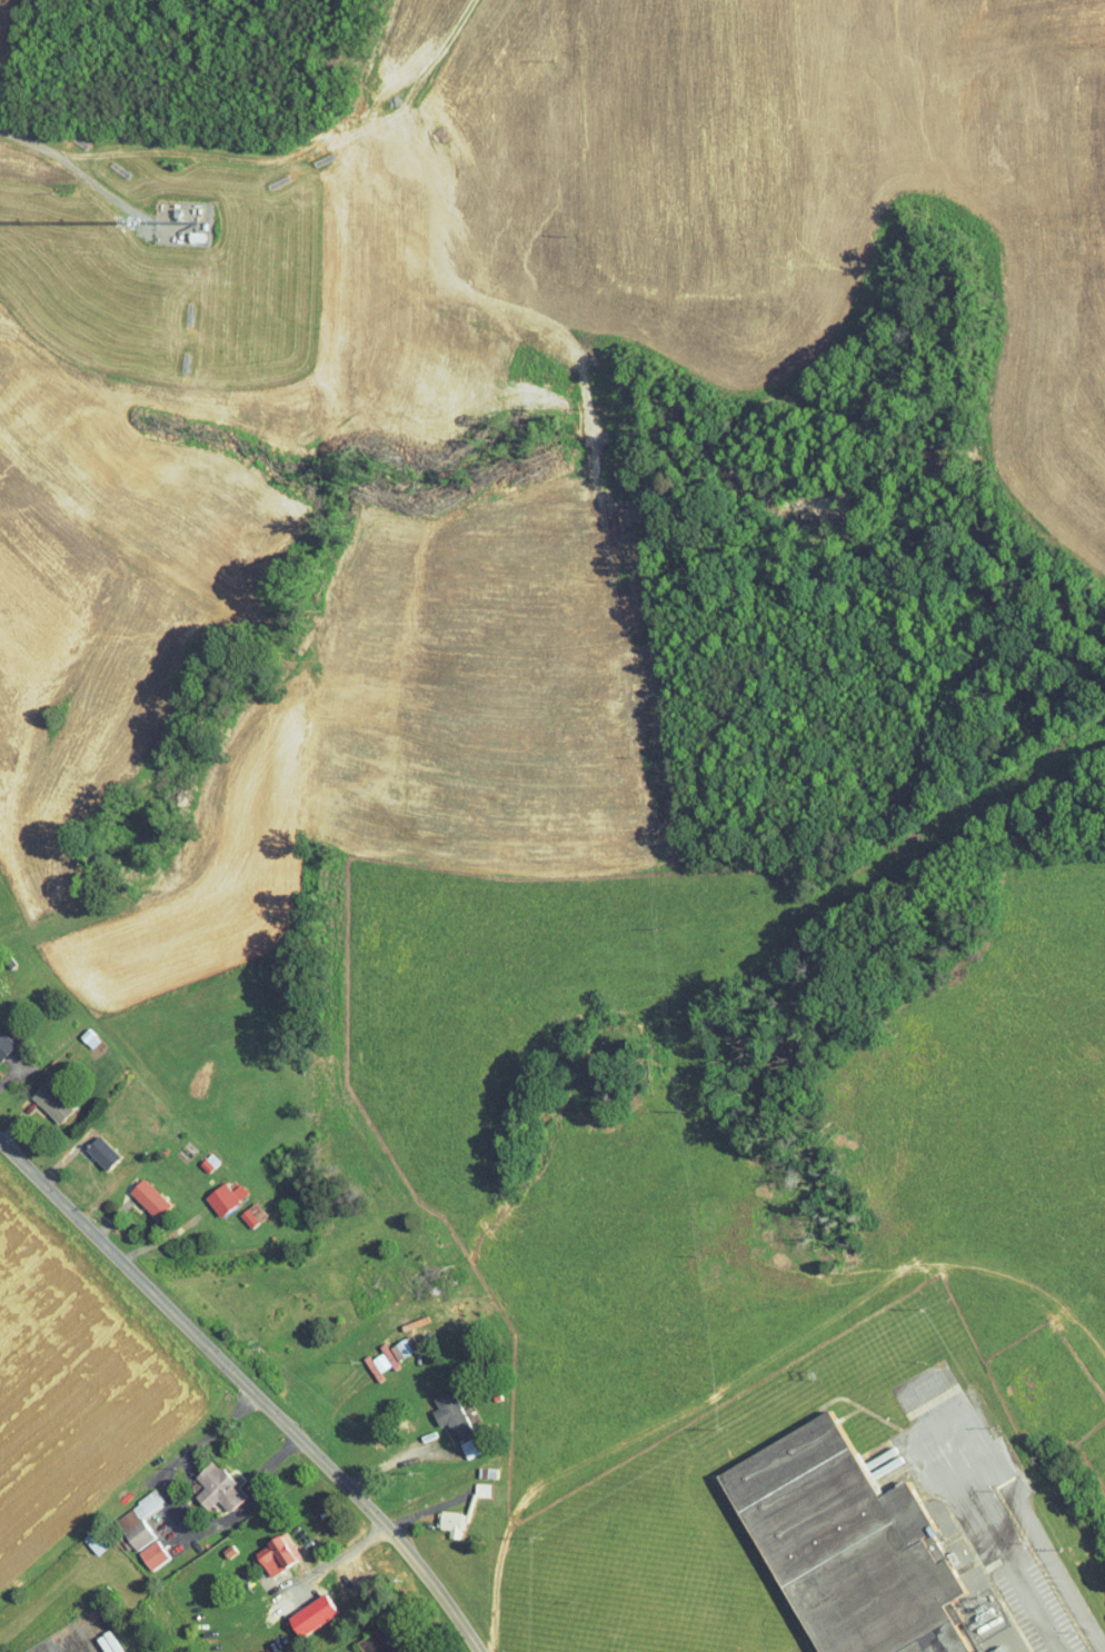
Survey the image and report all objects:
road: (143, 58)
road: (112, 121)
building: (36, 1096)
building: (87, 1145)
building: (193, 1155)
building: (133, 1191)
building: (210, 1191)
building: (238, 1207)
road: (122, 1256)
building: (372, 1351)
building: (436, 1409)
building: (455, 1441)
building: (201, 1481)
building: (467, 1483)
road: (370, 1511)
building: (123, 1514)
building: (436, 1516)
building: (827, 1523)
road: (1033, 1530)
building: (261, 1547)
building: (139, 1549)
building: (296, 1609)
building: (364, 1639)
building: (82, 1642)

